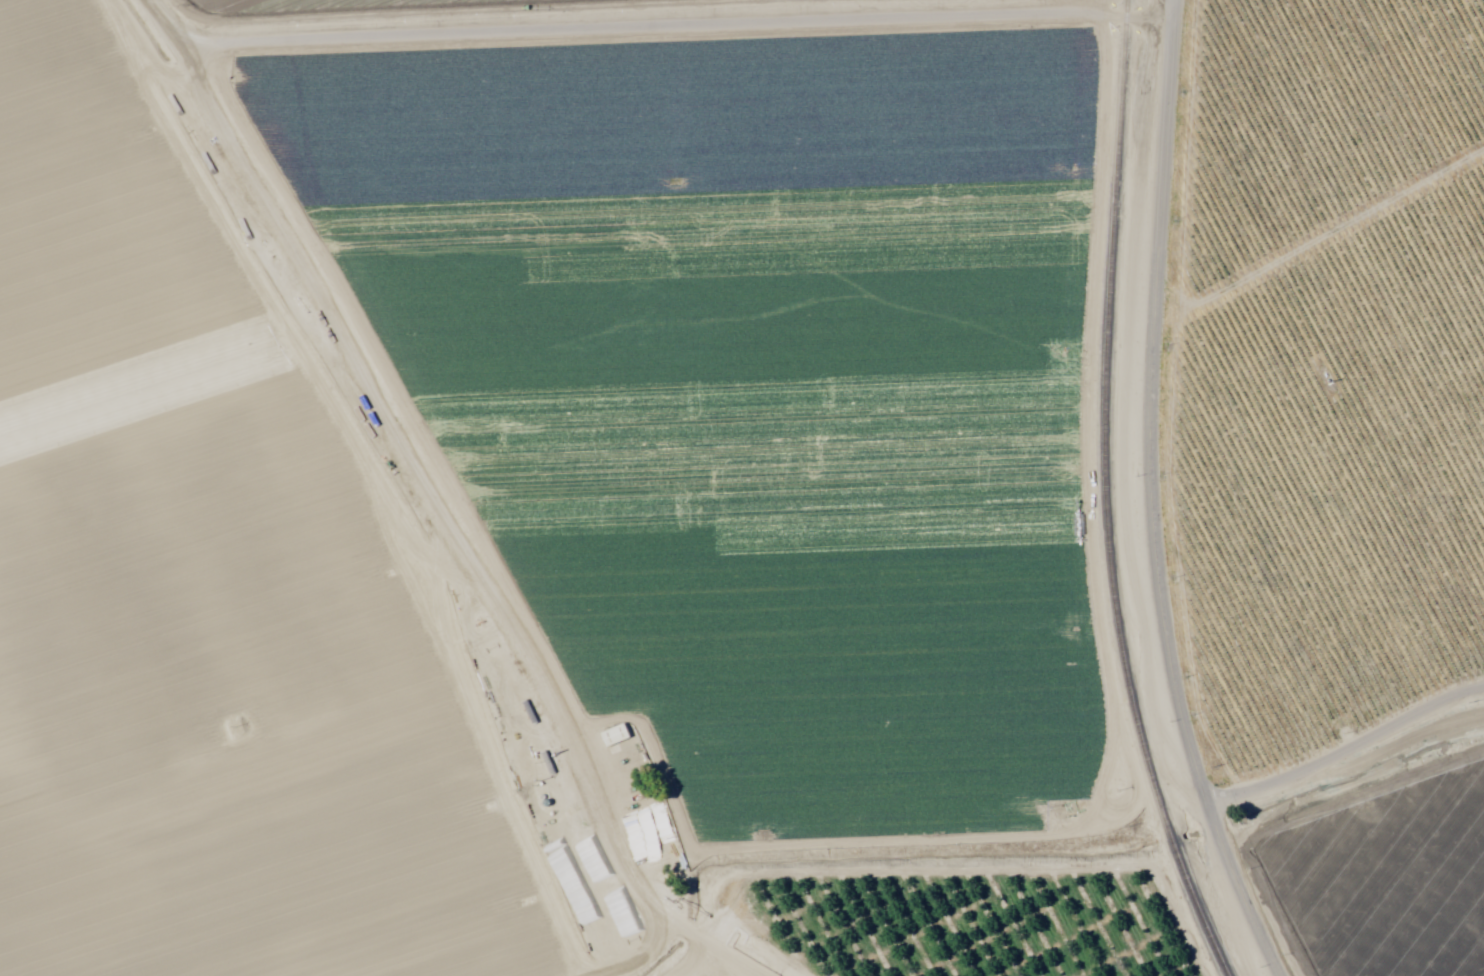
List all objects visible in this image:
road: (629, 16)
road: (344, 324)
crop: (1335, 458)
crop: (537, 472)
railway: (1110, 493)
road: (1168, 502)
building: (614, 737)
road: (1354, 743)
railway: (1224, 972)

